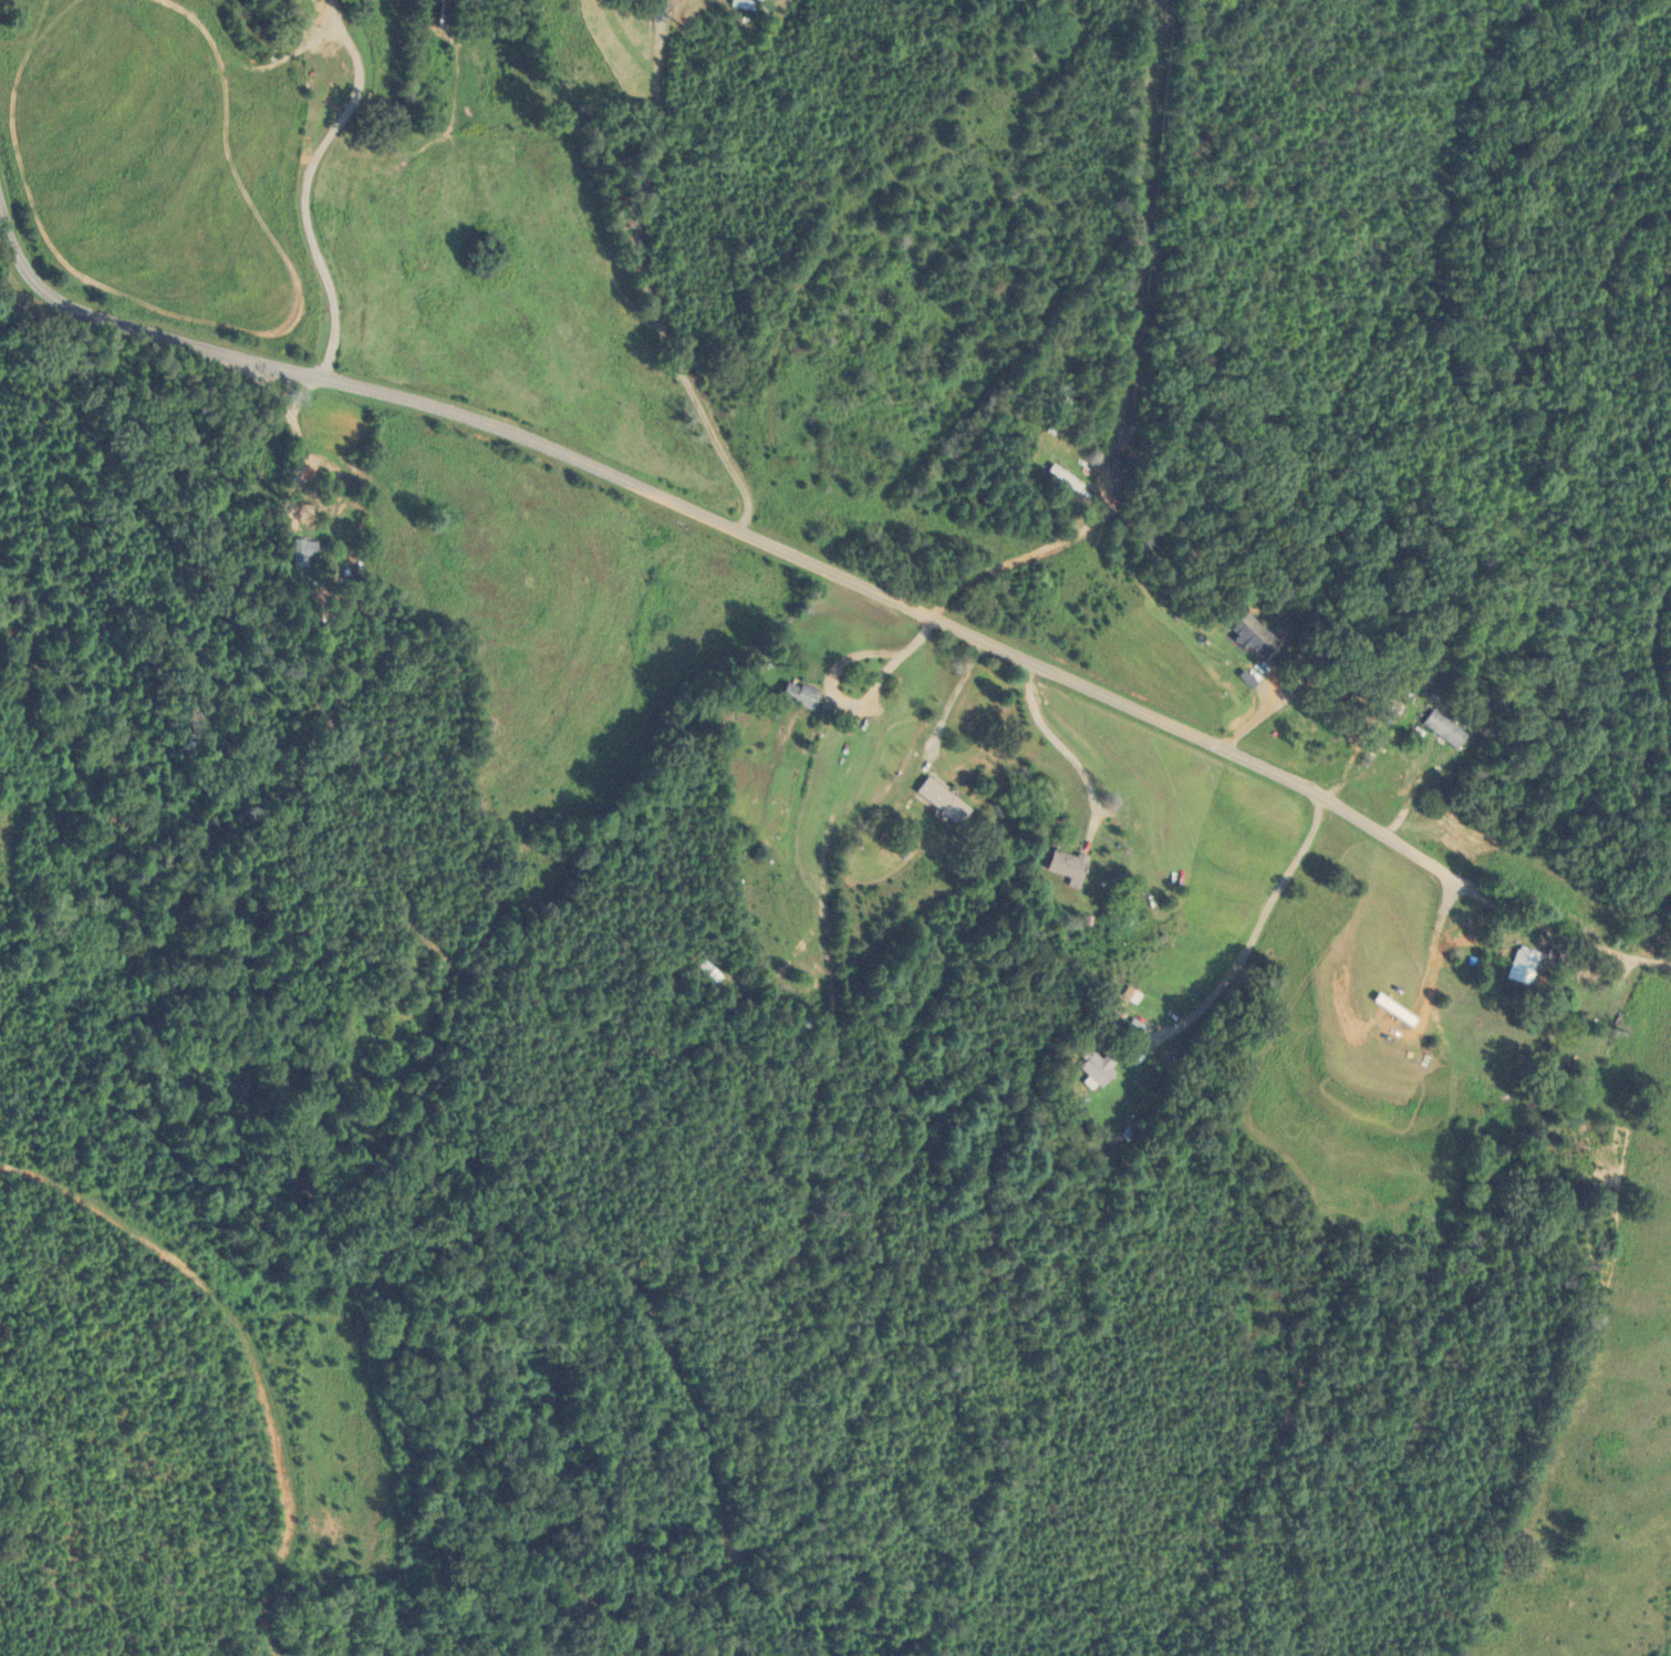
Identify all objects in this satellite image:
building: (744, 3)
building: (448, 11)
road: (304, 183)
road: (652, 277)
road: (1123, 360)
building: (1049, 415)
building: (1113, 460)
building: (1055, 478)
building: (301, 551)
road: (829, 570)
building: (1250, 630)
building: (793, 693)
road: (953, 694)
road: (855, 703)
building: (1327, 703)
building: (1441, 727)
road: (1061, 746)
building: (935, 798)
building: (1060, 862)
road: (1252, 929)
building: (1518, 964)
building: (1091, 1067)
building: (1524, 1100)

